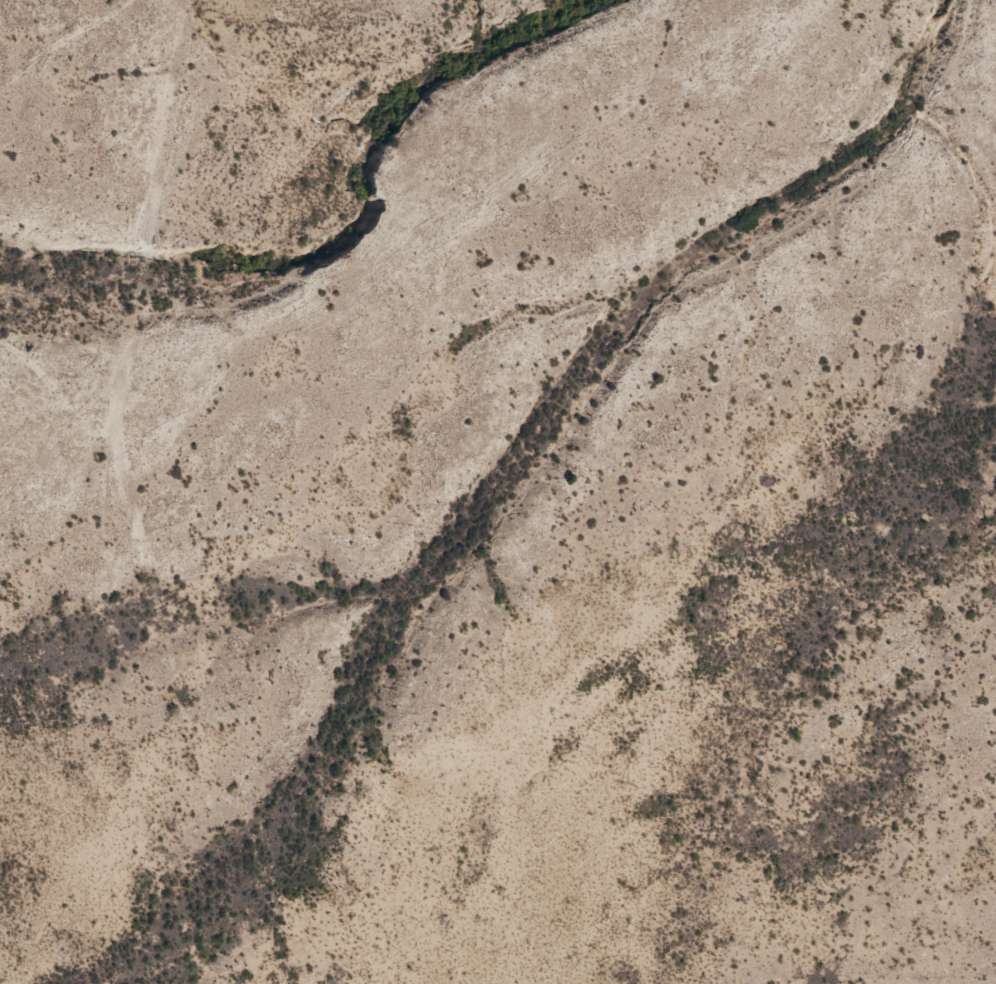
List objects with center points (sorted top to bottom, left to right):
road: (59, 43)
road: (180, 673)

